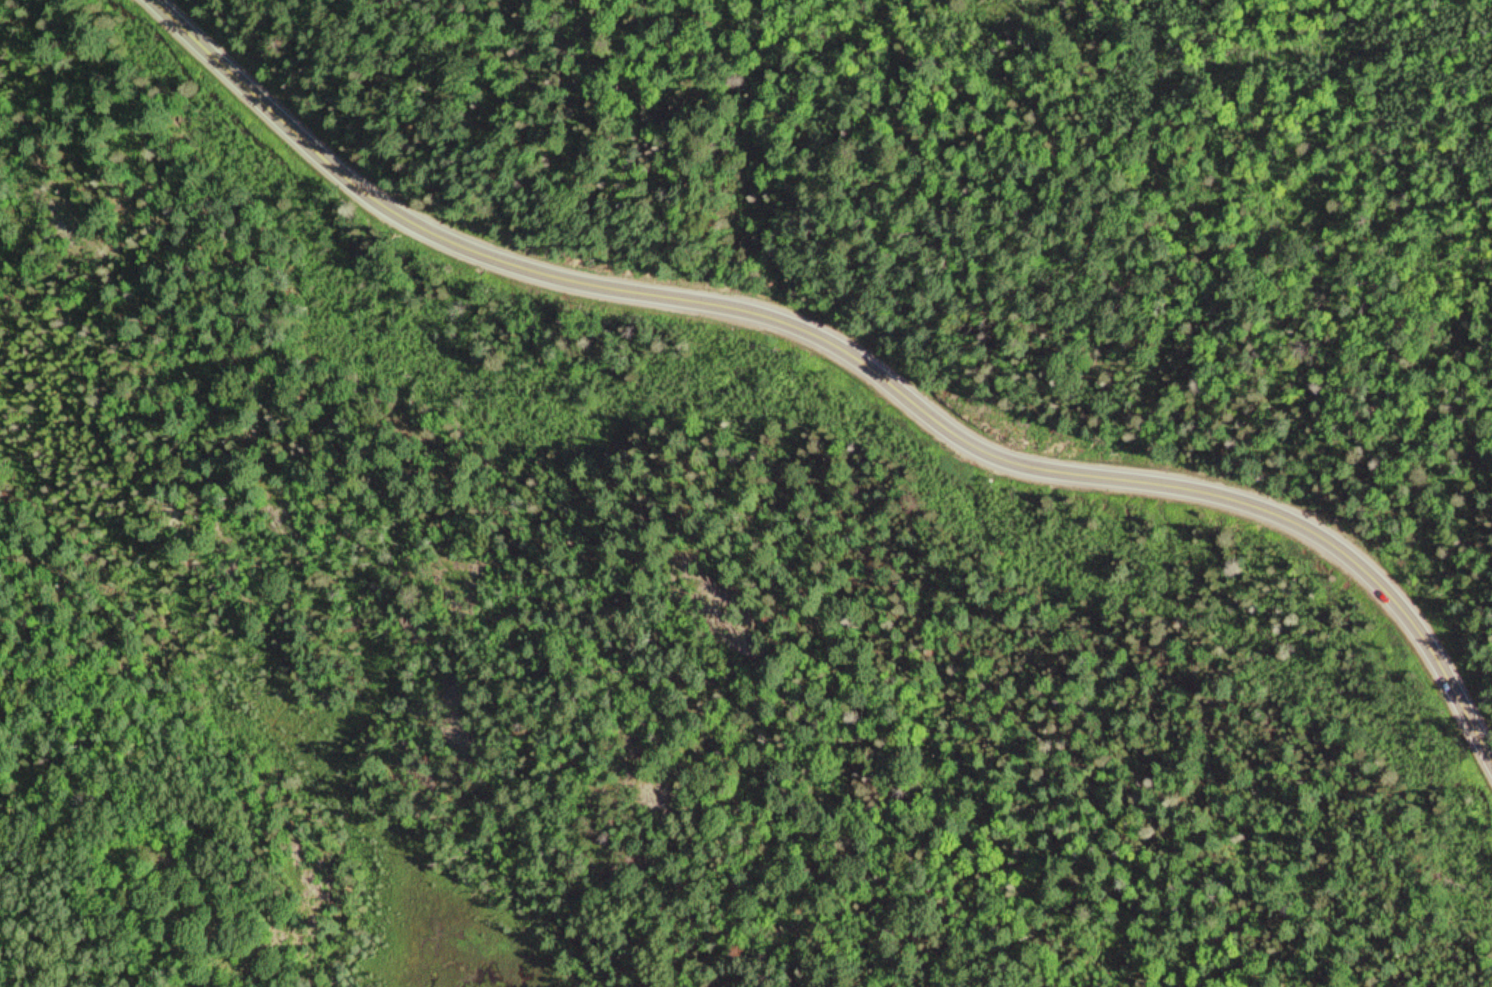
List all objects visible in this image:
road: (848, 352)

